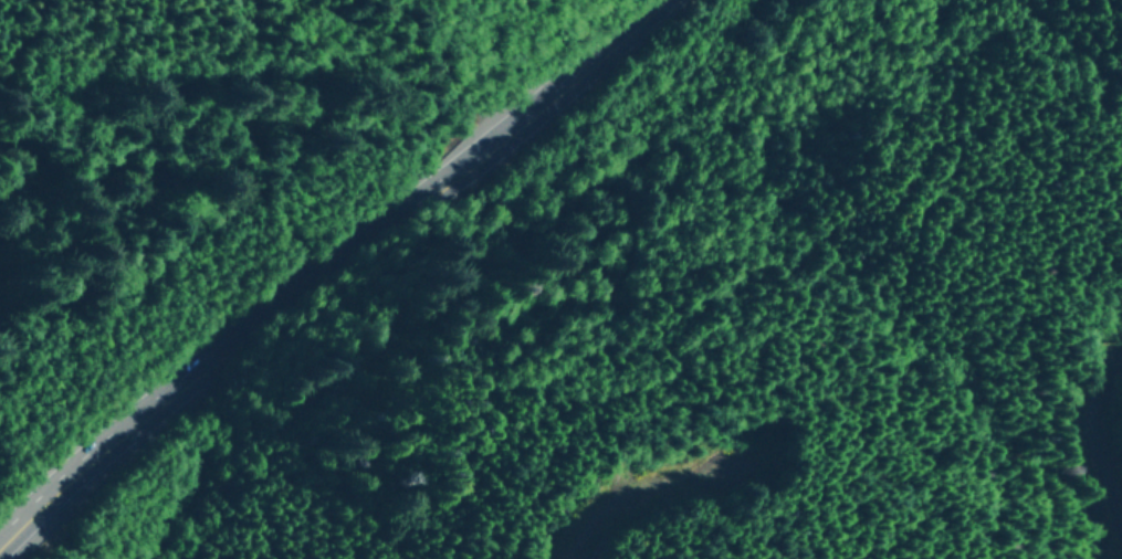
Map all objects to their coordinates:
road: (333, 273)
road: (1061, 439)

